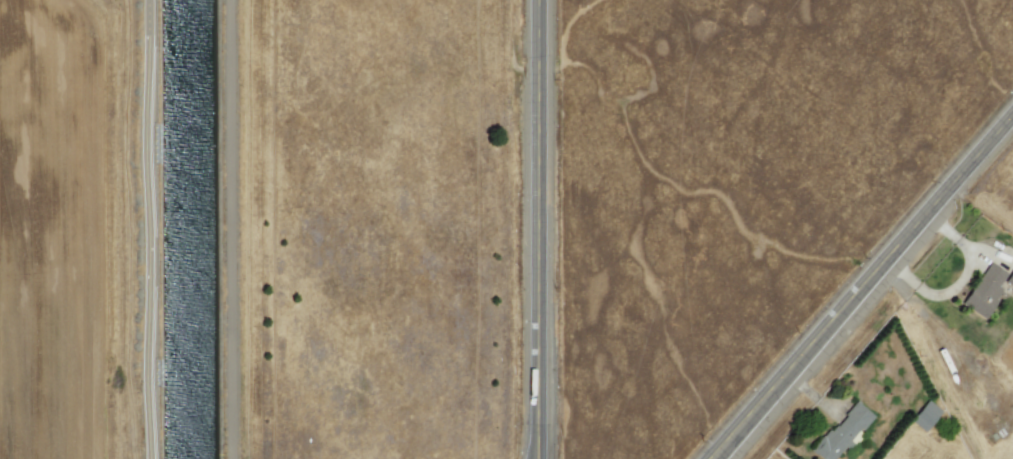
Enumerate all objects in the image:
crop: (992, 163)
crop: (378, 227)
road: (154, 229)
road: (235, 229)
road: (542, 229)
building: (1009, 280)
road: (863, 287)
building: (984, 292)
building: (925, 416)
crop: (1004, 417)
building: (842, 433)

